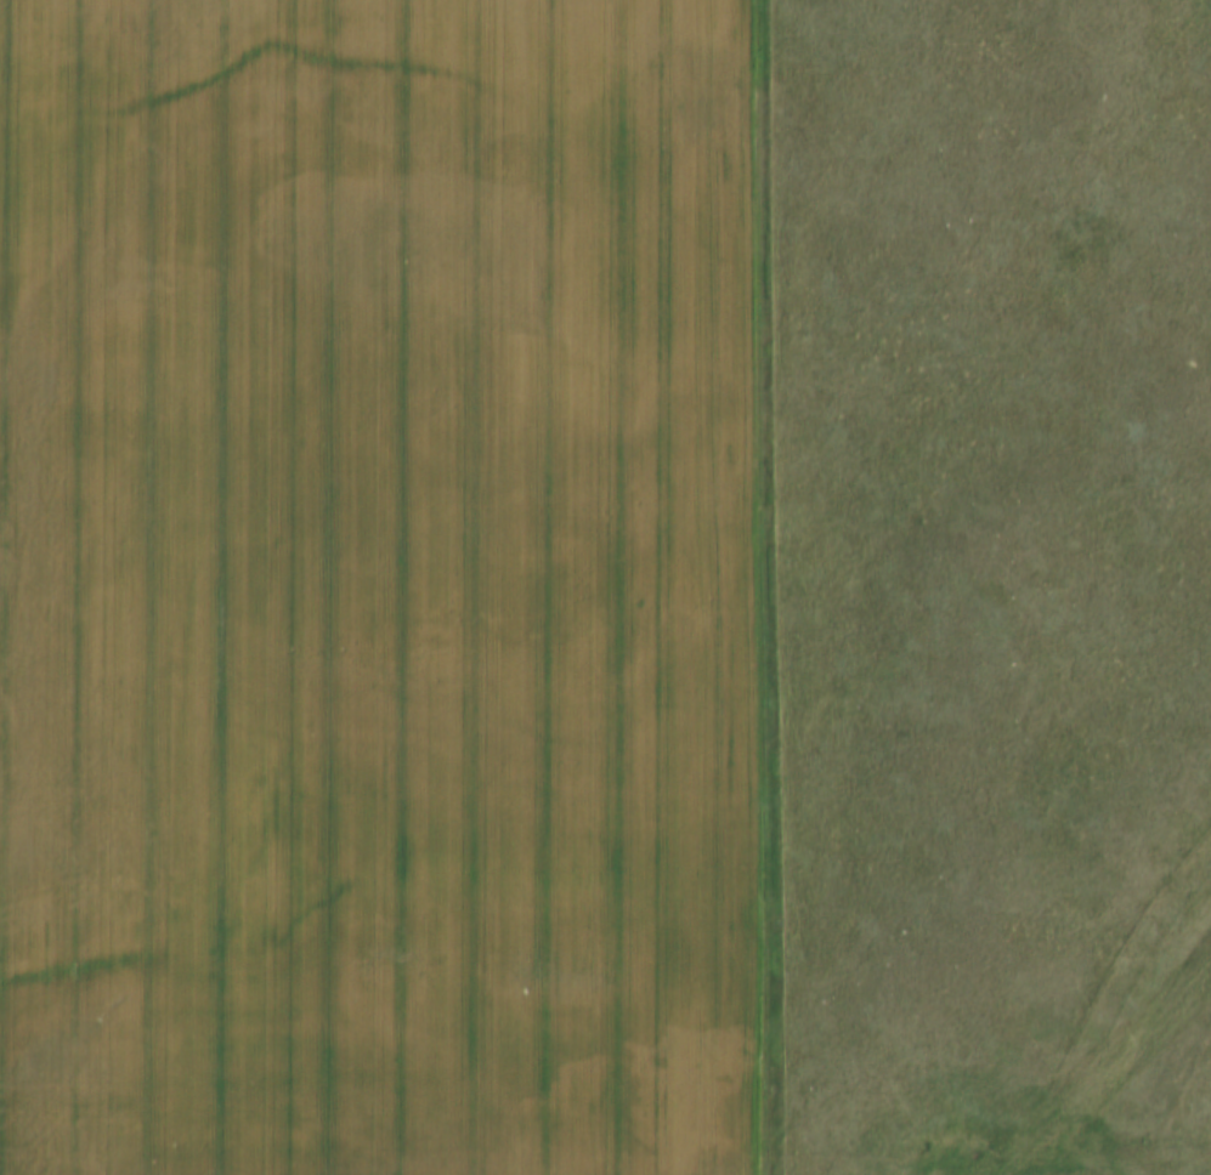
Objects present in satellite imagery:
road: (762, 586)

